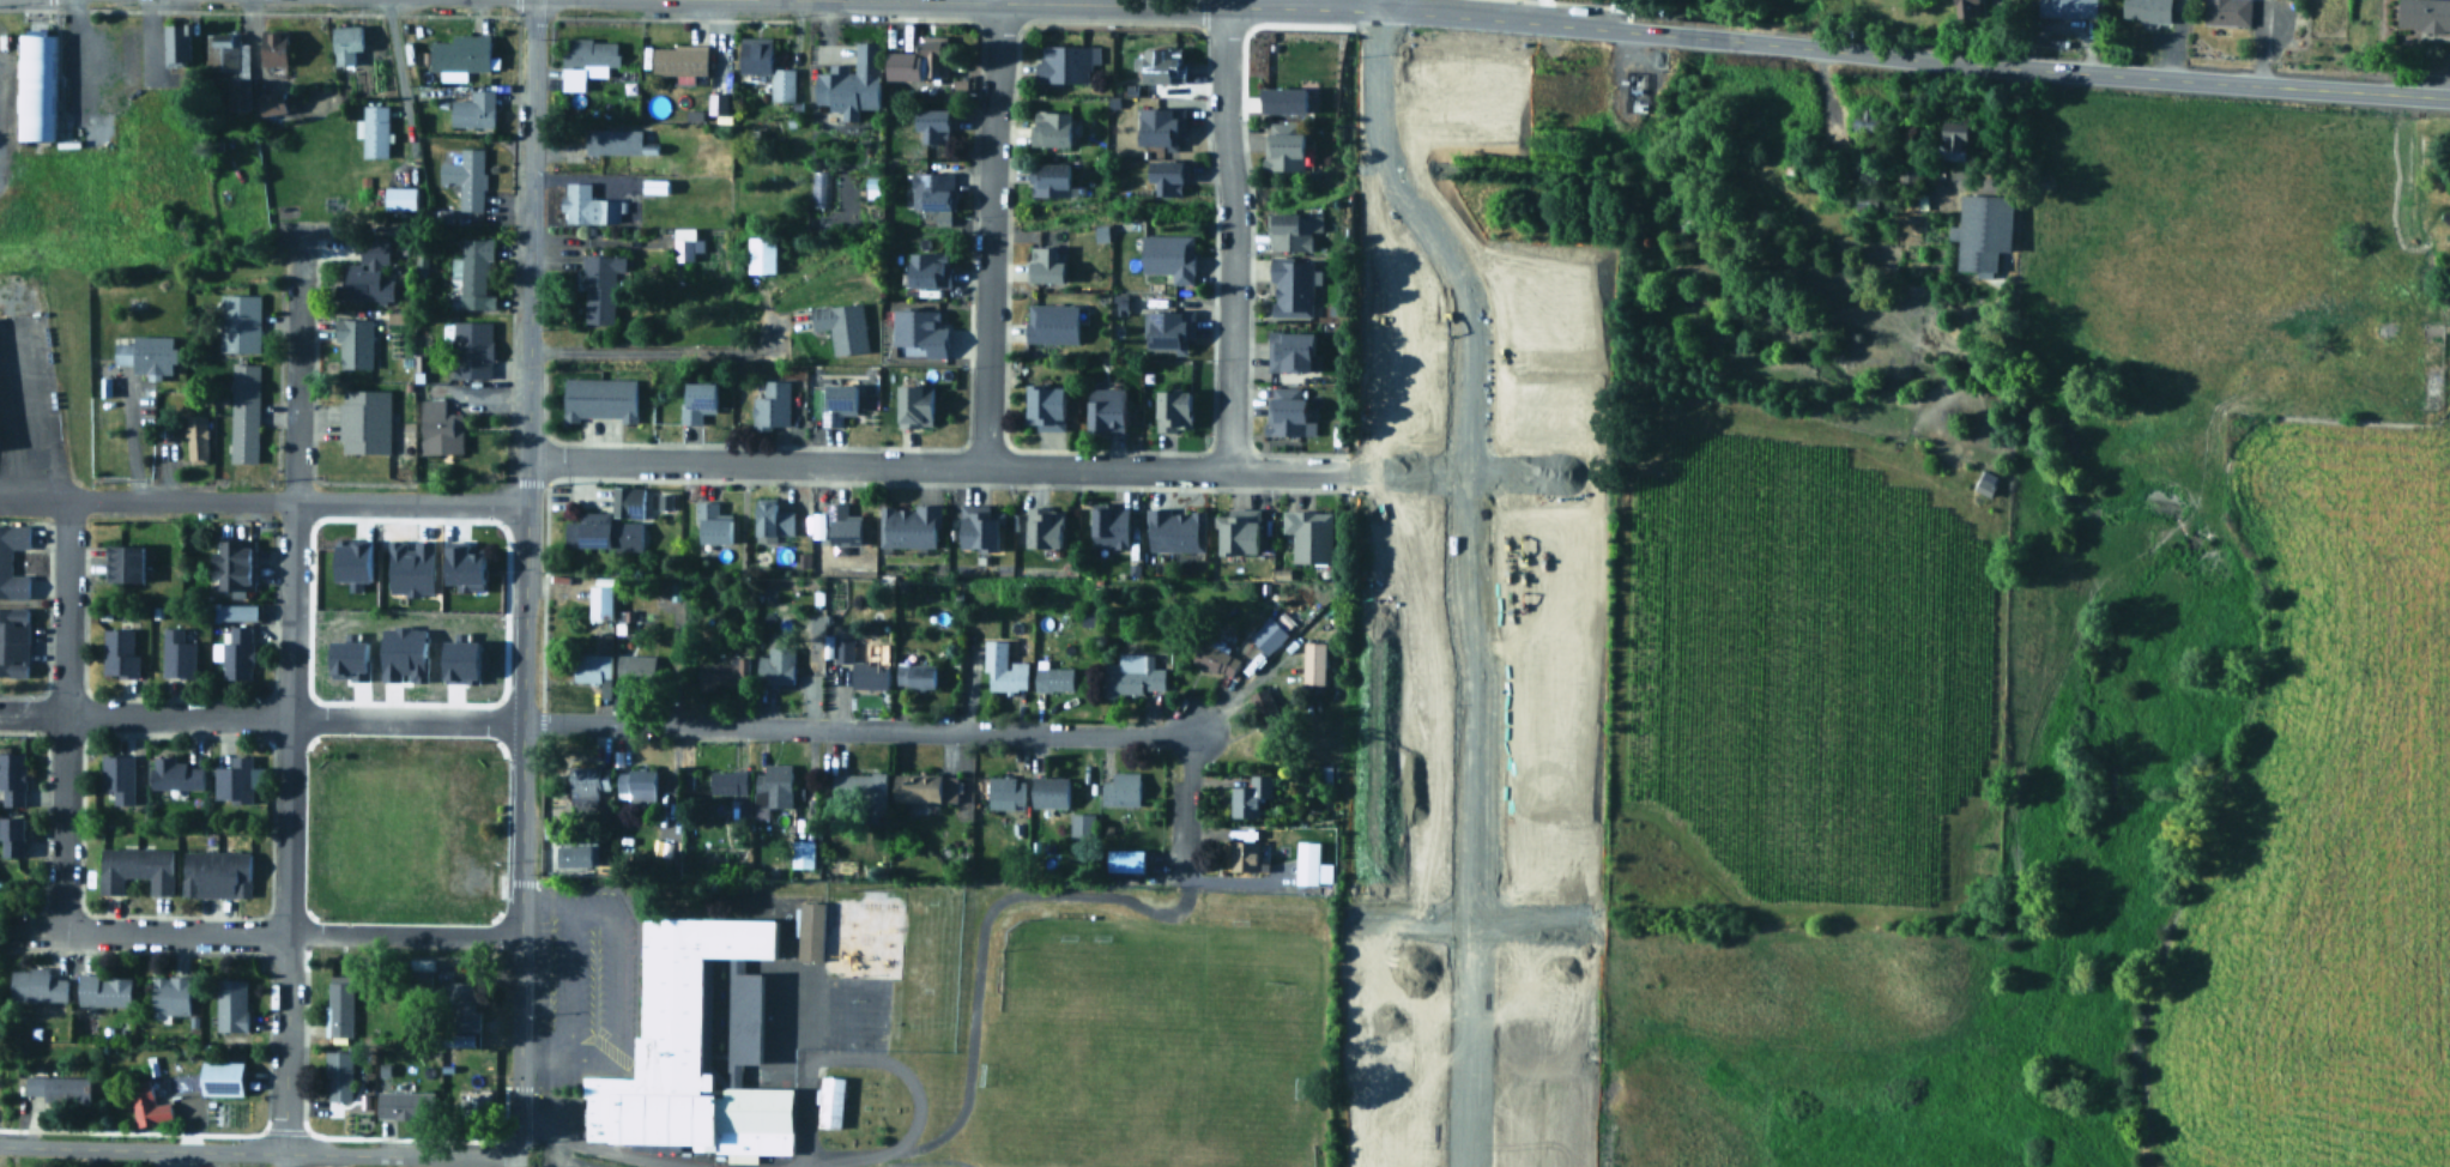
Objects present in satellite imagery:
road: (998, 1)
road: (1053, 2)
road: (1224, 2)
road: (1378, 5)
building: (1962, 6)
building: (2064, 7)
building: (2143, 8)
road: (1403, 11)
building: (2225, 11)
building: (2422, 13)
building: (173, 41)
building: (343, 41)
building: (270, 46)
building: (933, 50)
building: (751, 52)
building: (458, 54)
building: (676, 58)
building: (583, 59)
road: (399, 60)
building: (1066, 62)
building: (899, 64)
building: (228, 65)
building: (1166, 65)
road: (2015, 68)
building: (848, 80)
building: (780, 81)
building: (31, 85)
building: (1637, 92)
building: (1280, 97)
building: (268, 101)
building: (714, 101)
building: (471, 108)
building: (931, 121)
building: (1163, 126)
building: (1053, 127)
building: (371, 128)
road: (1838, 135)
building: (1948, 138)
building: (610, 139)
building: (1287, 146)
building: (464, 175)
building: (1169, 176)
building: (1053, 177)
road: (530, 180)
building: (819, 186)
building: (930, 188)
building: (397, 196)
building: (587, 204)
building: (1978, 229)
building: (1296, 230)
road: (987, 234)
road: (1232, 237)
building: (683, 241)
building: (757, 252)
building: (1170, 254)
building: (1047, 264)
building: (925, 267)
building: (367, 270)
building: (471, 271)
building: (598, 285)
building: (1291, 285)
building: (238, 320)
building: (1053, 322)
building: (840, 324)
building: (1172, 328)
building: (917, 331)
building: (352, 340)
building: (471, 347)
building: (1291, 350)
road: (652, 351)
building: (144, 352)
road: (297, 364)
building: (597, 397)
building: (694, 399)
building: (835, 400)
building: (769, 403)
building: (911, 404)
building: (1047, 407)
building: (1109, 410)
building: (1175, 410)
building: (242, 411)
building: (1290, 411)
road: (32, 416)
building: (362, 419)
building: (437, 427)
building: (194, 436)
road: (525, 466)
road: (1060, 468)
building: (1984, 479)
road: (262, 497)
building: (625, 500)
building: (769, 519)
building: (710, 521)
building: (845, 526)
building: (909, 526)
building: (1046, 527)
building: (1112, 527)
building: (981, 528)
building: (599, 530)
building: (1175, 530)
building: (1239, 531)
building: (1309, 534)
building: (5, 558)
building: (347, 560)
building: (120, 561)
building: (230, 564)
building: (407, 566)
building: (459, 566)
road: (1463, 578)
building: (597, 599)
building: (236, 610)
crop: (2018, 630)
building: (1268, 635)
building: (12, 640)
building: (841, 647)
building: (117, 652)
building: (235, 652)
building: (400, 652)
building: (176, 653)
building: (345, 658)
building: (455, 659)
building: (1216, 660)
building: (774, 664)
building: (589, 665)
building: (634, 666)
building: (1315, 667)
building: (1003, 670)
building: (719, 671)
building: (870, 675)
building: (917, 676)
building: (1133, 676)
building: (1054, 679)
road: (1240, 688)
building: (1264, 708)
road: (520, 712)
road: (63, 715)
road: (284, 715)
road: (141, 716)
road: (401, 720)
road: (851, 728)
building: (173, 772)
building: (116, 775)
building: (11, 776)
building: (235, 778)
building: (728, 782)
building: (774, 784)
building: (858, 786)
building: (586, 787)
building: (926, 787)
building: (637, 788)
building: (1120, 791)
building: (1005, 792)
building: (1051, 792)
building: (1251, 797)
road: (1182, 808)
building: (1081, 824)
building: (10, 834)
building: (1245, 848)
building: (803, 854)
building: (577, 855)
building: (1127, 859)
building: (1307, 863)
building: (134, 866)
building: (213, 871)
road: (1468, 923)
building: (810, 931)
road: (141, 932)
road: (399, 932)
building: (421, 968)
building: (1368, 974)
building: (1526, 981)
building: (34, 982)
road: (616, 982)
building: (1412, 982)
road: (569, 986)
parking lot: (582, 987)
building: (102, 988)
building: (167, 993)
road: (974, 998)
park: (1082, 999)
building: (229, 1004)
road: (518, 1004)
building: (460, 1005)
building: (337, 1006)
building: (456, 1038)
road: (284, 1041)
building: (1410, 1046)
building: (696, 1048)
building: (1537, 1053)
building: (335, 1074)
building: (217, 1076)
park: (1228, 1086)
building: (56, 1087)
building: (831, 1101)
building: (144, 1102)
building: (401, 1102)
building: (1399, 1107)
building: (1536, 1108)
road: (537, 1123)
road: (617, 1149)
road: (258, 1151)
building: (1393, 1155)
building: (1536, 1155)
road: (282, 1160)
road: (516, 1162)
road: (895, 1162)

